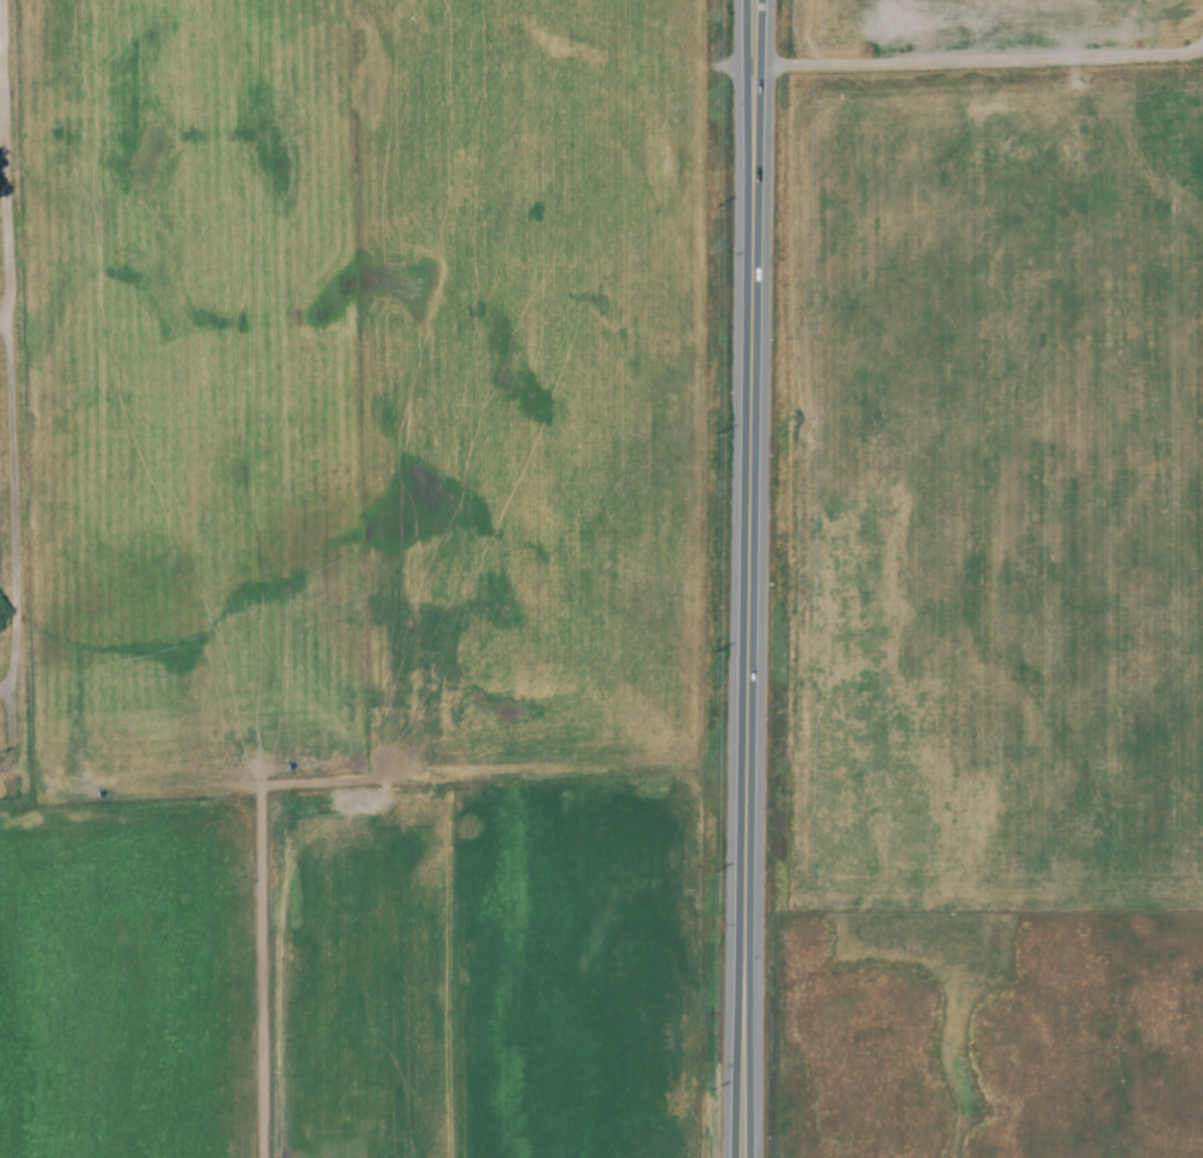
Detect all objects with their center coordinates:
road: (6, 399)
road: (739, 578)

